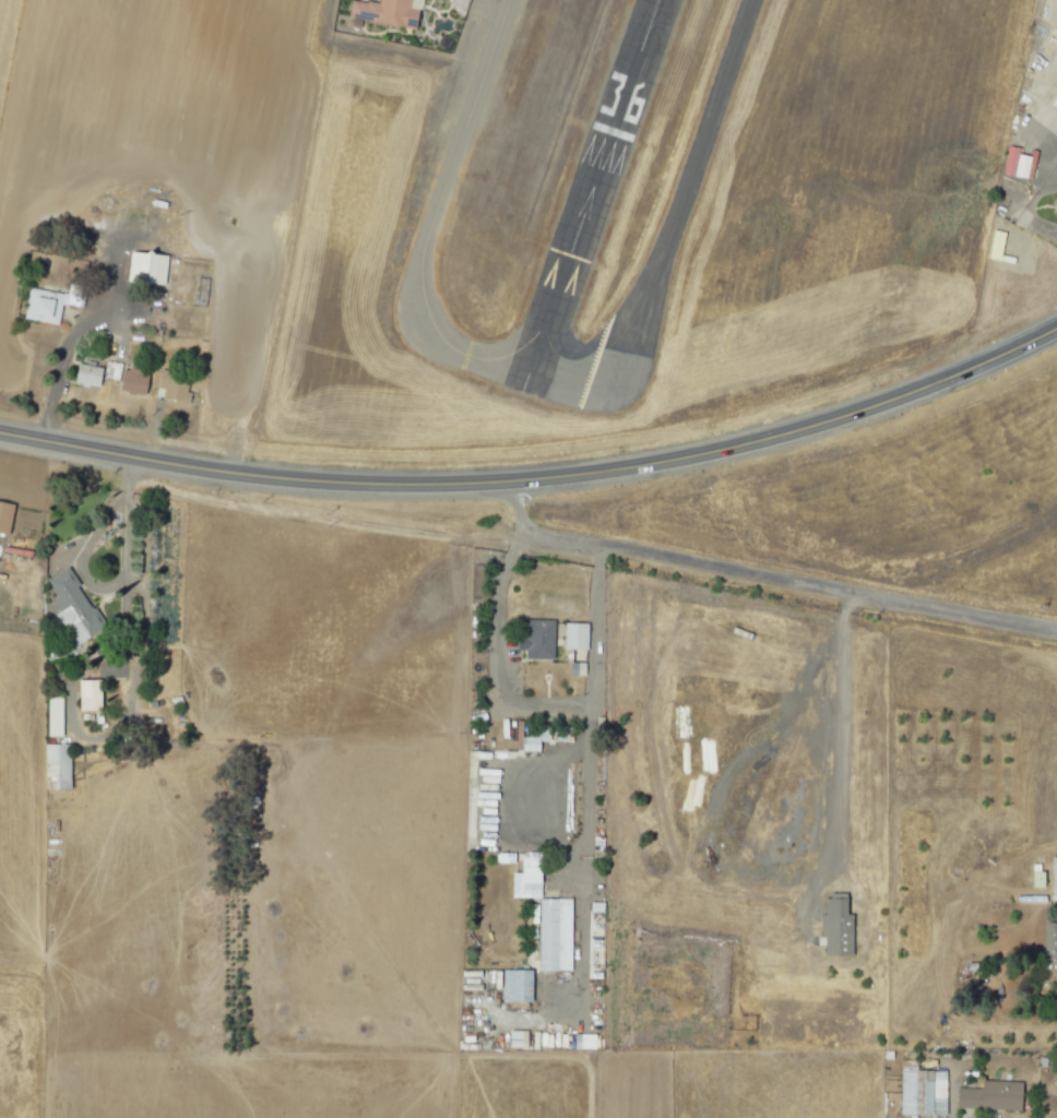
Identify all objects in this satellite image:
building: (1056, 0)
building: (387, 14)
road: (1056, 139)
building: (1018, 164)
airport: (652, 211)
building: (131, 267)
building: (39, 308)
road: (62, 362)
airport taxiway: (508, 368)
building: (85, 374)
building: (130, 382)
building: (170, 388)
airport runway: (528, 393)
airport taxiway: (561, 403)
road: (538, 479)
road: (115, 512)
building: (4, 518)
road: (765, 579)
building: (68, 605)
building: (572, 637)
building: (534, 640)
road: (495, 655)
building: (85, 695)
building: (50, 717)
building: (526, 745)
building: (54, 768)
road: (526, 813)
road: (792, 871)
building: (1052, 871)
building: (523, 879)
building: (1035, 879)
building: (833, 927)
building: (550, 935)
building: (1049, 951)
building: (513, 987)
building: (514, 1039)
building: (582, 1042)
building: (919, 1092)
building: (988, 1096)

